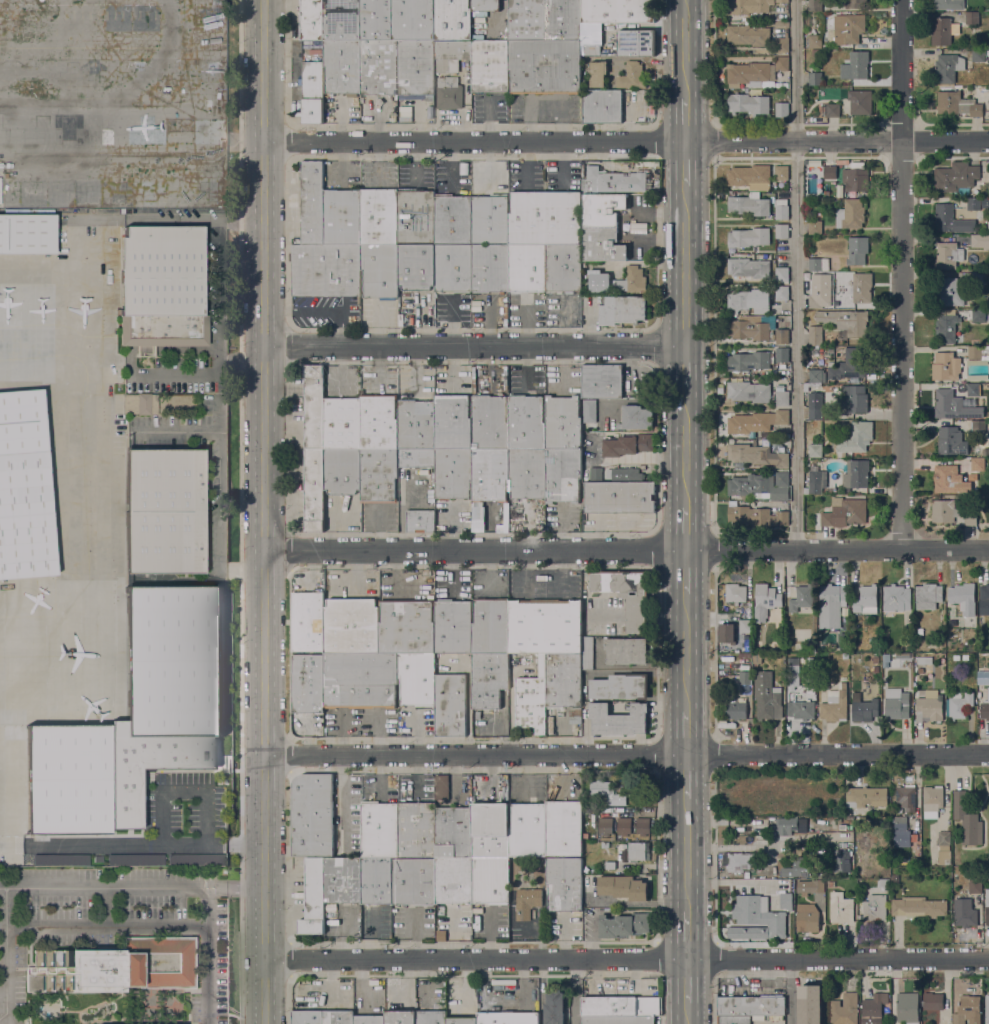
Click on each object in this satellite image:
building: (840, 2)
building: (782, 3)
building: (856, 4)
building: (948, 4)
building: (485, 5)
building: (814, 5)
building: (749, 7)
building: (618, 11)
building: (971, 17)
building: (311, 19)
building: (452, 19)
building: (341, 20)
building: (376, 20)
building: (413, 20)
building: (527, 20)
building: (562, 20)
building: (848, 28)
building: (942, 30)
building: (748, 35)
building: (815, 41)
building: (635, 42)
building: (781, 45)
building: (590, 49)
road: (685, 50)
building: (450, 55)
building: (986, 55)
building: (978, 56)
building: (318, 57)
building: (855, 65)
building: (342, 66)
building: (490, 66)
building: (378, 67)
building: (545, 67)
building: (948, 67)
building: (415, 70)
building: (756, 71)
building: (597, 73)
building: (632, 76)
building: (815, 78)
building: (312, 92)
building: (449, 93)
building: (860, 101)
building: (748, 103)
building: (957, 104)
building: (602, 107)
building: (782, 109)
building: (832, 110)
road: (685, 120)
road: (626, 141)
road: (685, 163)
building: (781, 172)
building: (830, 172)
building: (955, 176)
building: (750, 177)
building: (855, 179)
building: (612, 181)
building: (973, 203)
building: (985, 203)
building: (312, 204)
building: (749, 206)
building: (602, 209)
building: (110, 211)
building: (781, 212)
building: (850, 214)
building: (379, 216)
building: (342, 217)
building: (416, 217)
building: (544, 218)
building: (490, 219)
building: (951, 219)
road: (174, 220)
building: (452, 220)
road: (241, 223)
building: (815, 227)
building: (781, 231)
airport hangar: (27, 234)
building: (27, 234)
building: (749, 237)
building: (980, 241)
building: (602, 245)
building: (857, 250)
building: (947, 255)
building: (819, 264)
building: (416, 266)
road: (685, 266)
building: (749, 267)
building: (453, 268)
building: (490, 268)
building: (527, 268)
building: (563, 268)
building: (325, 270)
building: (380, 271)
road: (795, 273)
building: (781, 274)
road: (901, 274)
building: (978, 280)
building: (618, 281)
building: (862, 287)
building: (160, 288)
road: (220, 289)
building: (782, 292)
building: (951, 292)
building: (749, 301)
building: (815, 301)
building: (622, 309)
building: (978, 316)
building: (846, 321)
building: (946, 327)
building: (748, 329)
building: (781, 336)
building: (815, 336)
road: (473, 346)
building: (826, 349)
building: (977, 351)
building: (781, 354)
road: (242, 357)
airport taxiway: (24, 361)
building: (750, 361)
building: (850, 364)
building: (946, 366)
road: (685, 367)
building: (815, 376)
road: (185, 378)
building: (602, 382)
building: (815, 385)
building: (977, 389)
building: (757, 392)
building: (856, 399)
building: (139, 404)
building: (947, 404)
building: (815, 406)
building: (314, 408)
building: (589, 410)
building: (636, 417)
building: (756, 421)
building: (378, 422)
building: (452, 422)
building: (489, 422)
building: (526, 422)
building: (563, 422)
building: (342, 424)
building: (416, 425)
building: (978, 427)
airport: (116, 429)
building: (855, 438)
building: (951, 441)
building: (627, 445)
road: (685, 447)
building: (815, 450)
building: (986, 451)
building: (756, 455)
building: (416, 457)
building: (978, 464)
building: (342, 471)
building: (453, 473)
building: (527, 473)
building: (489, 474)
building: (615, 474)
building: (856, 474)
building: (379, 475)
building: (563, 475)
building: (782, 479)
building: (949, 479)
building: (815, 482)
building: (750, 485)
airport hangar: (23, 489)
building: (23, 489)
building: (314, 490)
building: (781, 493)
building: (432, 495)
building: (619, 498)
building: (944, 510)
building: (162, 511)
road: (240, 511)
road: (263, 512)
building: (844, 512)
building: (757, 516)
building: (970, 518)
building: (420, 521)
road: (685, 527)
road: (626, 549)
road: (685, 571)
building: (584, 576)
building: (735, 593)
building: (627, 594)
building: (928, 595)
building: (963, 595)
building: (801, 598)
building: (897, 598)
building: (984, 599)
building: (866, 600)
building: (765, 602)
building: (831, 605)
building: (307, 621)
building: (453, 625)
building: (351, 626)
building: (407, 626)
building: (490, 626)
building: (545, 626)
building: (746, 626)
building: (920, 631)
building: (727, 633)
building: (909, 638)
building: (842, 640)
building: (812, 647)
building: (626, 650)
road: (686, 652)
building: (587, 653)
building: (903, 655)
building: (744, 656)
building: (845, 656)
building: (811, 657)
building: (757, 658)
building: (875, 659)
building: (925, 660)
building: (876, 669)
building: (745, 677)
building: (417, 679)
building: (488, 679)
building: (360, 680)
building: (563, 680)
building: (308, 683)
building: (621, 686)
building: (767, 697)
building: (532, 700)
building: (897, 704)
building: (450, 705)
building: (835, 705)
building: (959, 705)
building: (929, 706)
building: (735, 708)
building: (864, 709)
building: (801, 710)
building: (983, 711)
building: (575, 716)
airport hangar: (135, 718)
building: (135, 718)
building: (618, 718)
road: (687, 733)
road: (626, 754)
road: (687, 776)
building: (440, 786)
building: (601, 788)
road: (184, 791)
building: (867, 796)
building: (906, 797)
building: (617, 799)
building: (932, 800)
building: (312, 815)
building: (967, 820)
building: (605, 825)
building: (786, 825)
building: (624, 826)
building: (643, 826)
building: (563, 828)
building: (490, 829)
building: (379, 830)
building: (416, 830)
building: (528, 830)
building: (453, 832)
building: (901, 832)
road: (144, 842)
building: (605, 845)
building: (944, 847)
building: (633, 851)
road: (687, 855)
building: (59, 860)
building: (134, 860)
building: (916, 860)
building: (741, 861)
building: (842, 861)
building: (609, 865)
building: (797, 867)
building: (895, 878)
building: (453, 880)
building: (490, 880)
building: (342, 881)
building: (376, 881)
building: (413, 881)
building: (831, 883)
building: (564, 884)
building: (883, 884)
building: (975, 886)
road: (171, 887)
road: (235, 887)
building: (623, 887)
building: (810, 887)
building: (313, 897)
building: (786, 901)
building: (525, 903)
building: (920, 906)
building: (841, 908)
building: (874, 909)
building: (987, 910)
building: (759, 914)
building: (965, 917)
building: (807, 918)
road: (107, 923)
parking lot: (111, 923)
building: (624, 925)
road: (687, 935)
road: (627, 958)
building: (115, 967)
road: (6, 970)
road: (687, 980)
road: (573, 991)
road: (790, 991)
building: (933, 1001)
building: (811, 1004)
building: (554, 1006)
building: (622, 1006)
building: (751, 1006)
building: (987, 1007)
building: (873, 1008)
building: (907, 1008)
building: (845, 1009)
building: (967, 1010)
road: (687, 1013)
building: (431, 1016)
building: (307, 1017)
building: (338, 1017)
building: (400, 1017)
building: (508, 1018)
building: (369, 1019)
building: (461, 1020)
building: (619, 1020)
building: (734, 1020)

